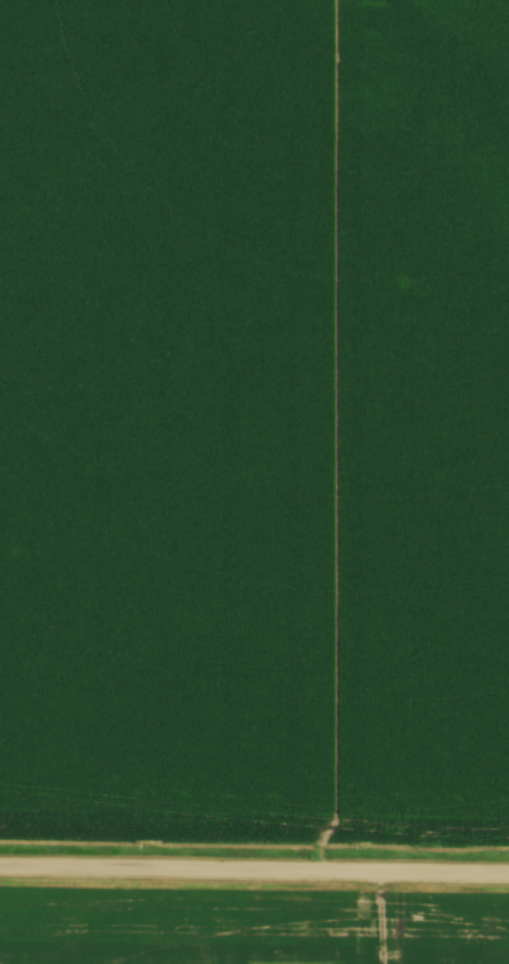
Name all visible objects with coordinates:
road: (254, 874)

